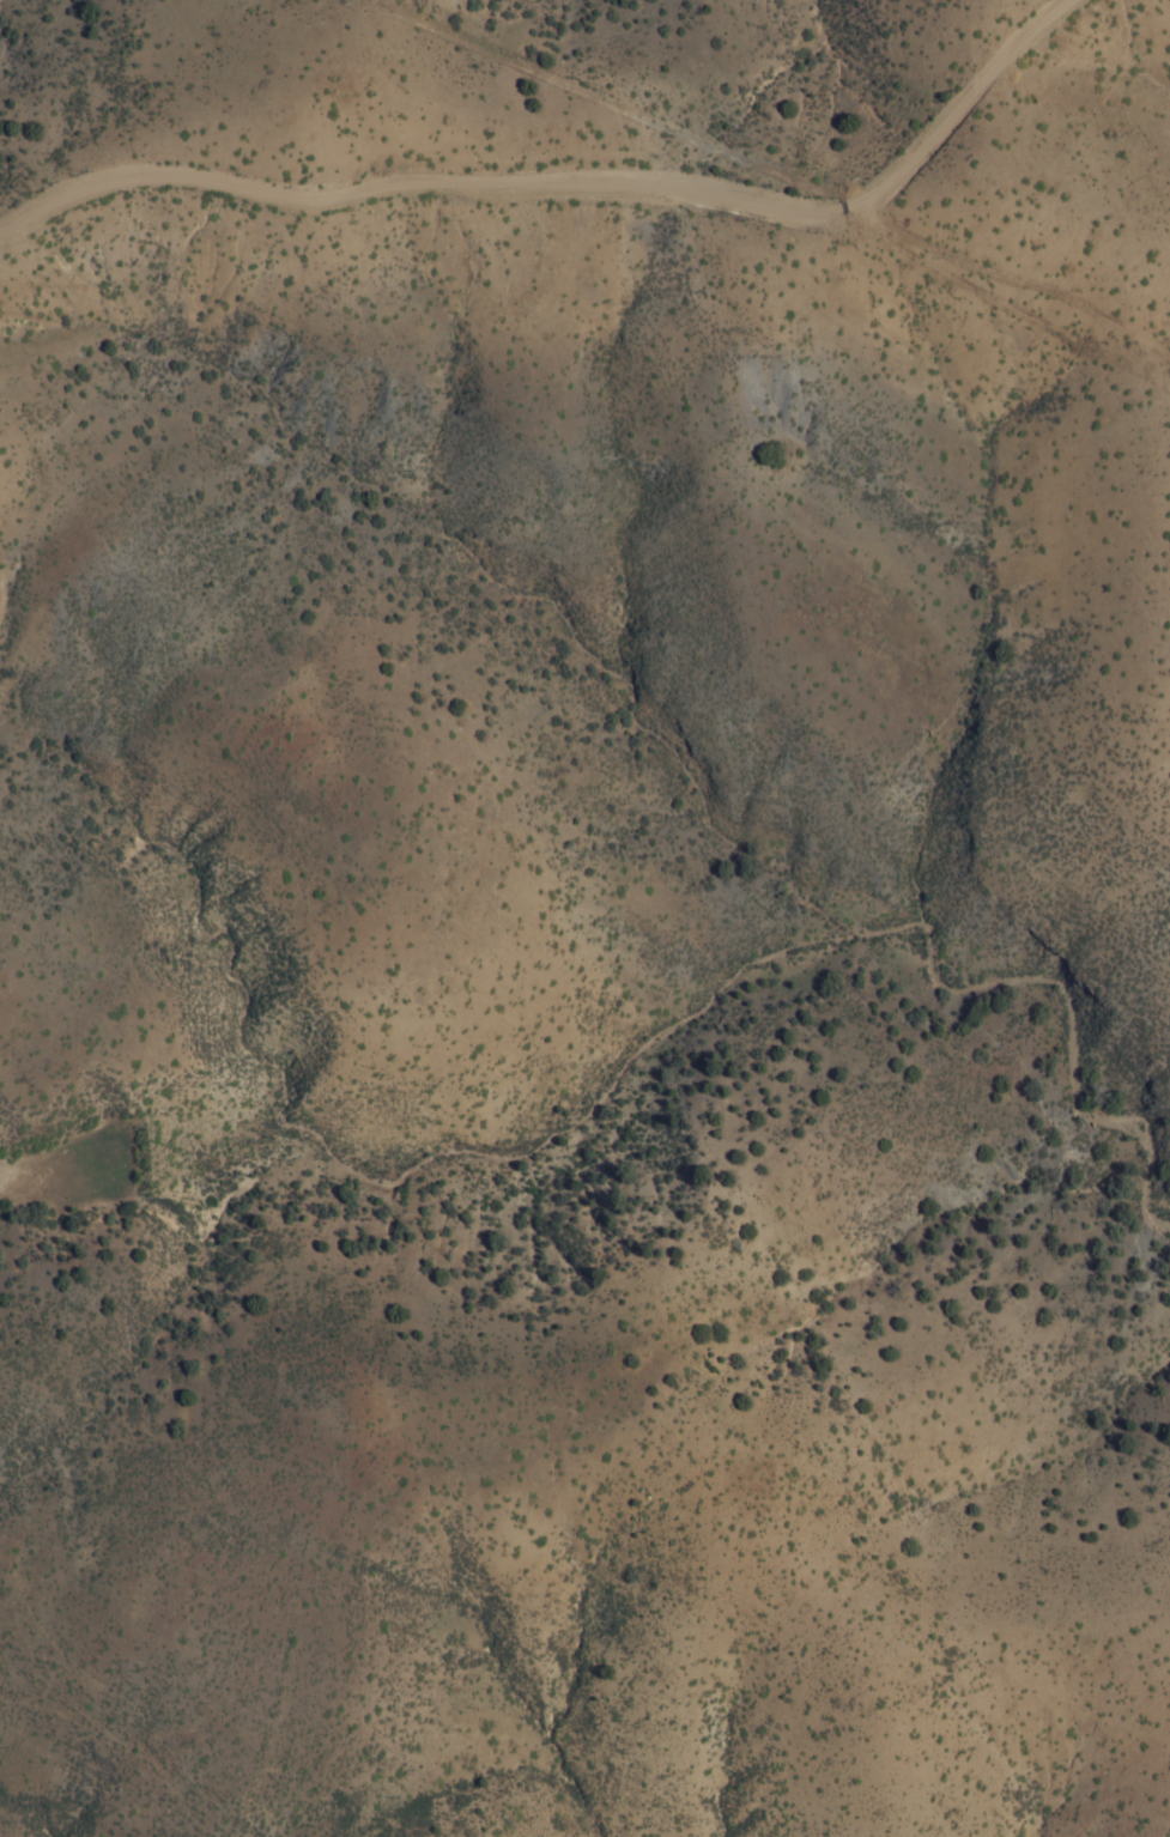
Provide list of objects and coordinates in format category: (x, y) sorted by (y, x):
road: (570, 177)

